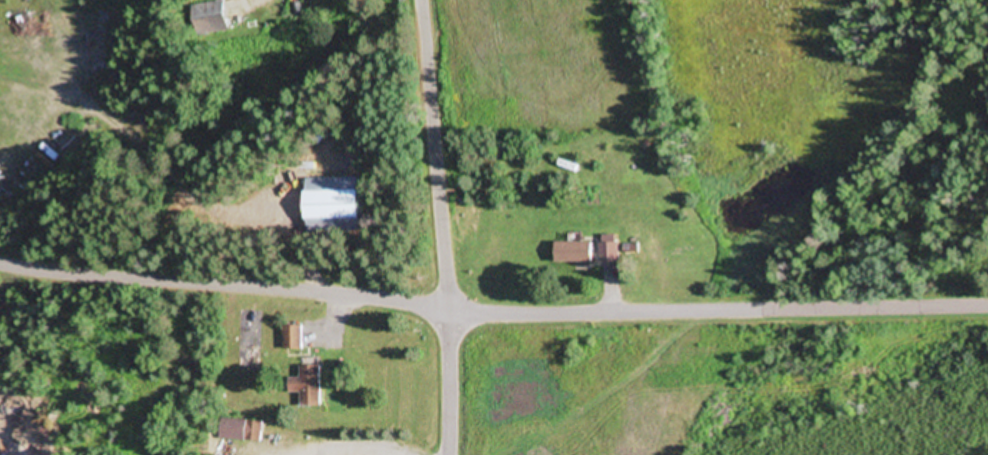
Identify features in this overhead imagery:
building: (212, 18)
building: (333, 205)
road: (443, 227)
building: (576, 253)
building: (611, 253)
road: (225, 290)
road: (719, 309)
building: (293, 339)
building: (308, 387)
building: (240, 432)

